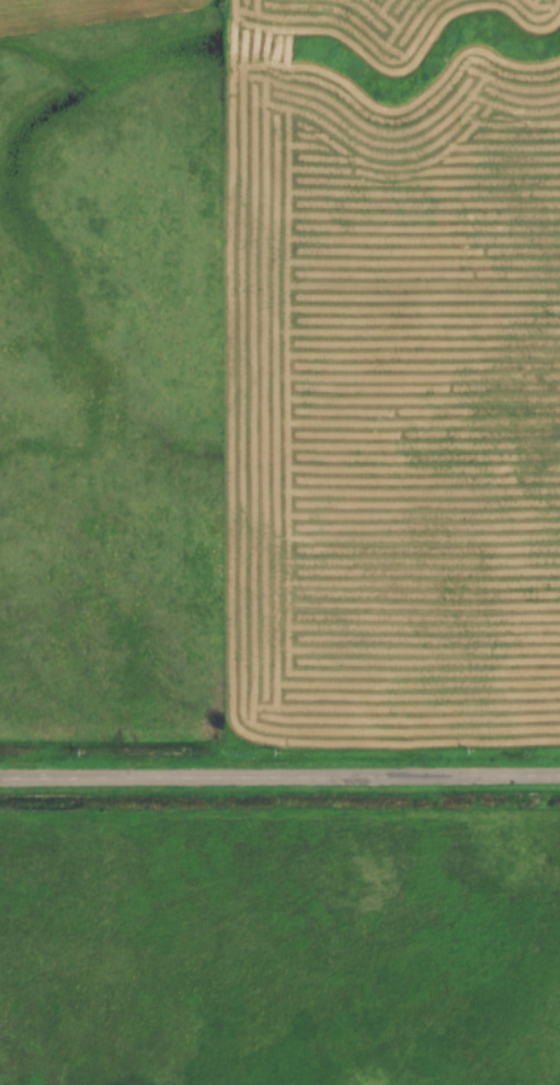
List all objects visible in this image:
road: (279, 784)

